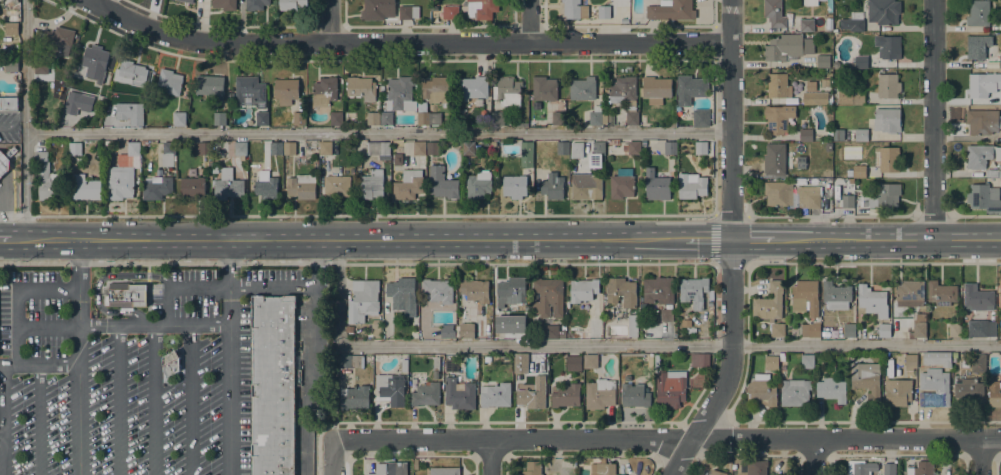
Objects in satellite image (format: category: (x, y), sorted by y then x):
building: (186, 1)
road: (95, 2)
building: (810, 3)
building: (224, 4)
building: (256, 4)
building: (291, 4)
building: (481, 8)
building: (377, 9)
building: (574, 9)
building: (670, 10)
building: (883, 11)
building: (408, 12)
building: (450, 12)
building: (603, 12)
building: (774, 13)
building: (978, 13)
building: (11, 15)
road: (330, 22)
road: (530, 22)
building: (852, 22)
building: (806, 25)
building: (1000, 25)
building: (11, 29)
building: (57, 41)
road: (403, 44)
building: (888, 46)
building: (787, 47)
building: (979, 47)
building: (93, 60)
building: (822, 61)
building: (860, 61)
building: (999, 61)
building: (11, 66)
building: (40, 67)
building: (132, 74)
building: (169, 82)
building: (824, 83)
building: (983, 84)
building: (209, 85)
building: (811, 85)
building: (778, 86)
building: (888, 86)
building: (361, 88)
building: (472, 88)
building: (544, 88)
building: (582, 89)
building: (655, 89)
building: (690, 89)
building: (436, 90)
building: (285, 91)
building: (507, 91)
building: (250, 92)
building: (324, 92)
building: (401, 93)
building: (625, 96)
building: (815, 98)
building: (857, 98)
building: (9, 105)
building: (68, 107)
building: (425, 115)
building: (597, 116)
building: (261, 118)
building: (299, 118)
building: (336, 118)
building: (373, 118)
building: (386, 118)
building: (498, 118)
building: (558, 118)
building: (693, 118)
road: (25, 119)
building: (136, 119)
building: (179, 119)
building: (219, 119)
building: (778, 119)
road: (932, 119)
building: (887, 120)
road: (13, 121)
building: (982, 121)
building: (520, 124)
building: (673, 125)
road: (377, 132)
building: (829, 134)
building: (838, 134)
building: (861, 134)
building: (805, 135)
building: (828, 146)
building: (240, 147)
building: (432, 147)
building: (563, 147)
building: (632, 147)
building: (670, 147)
building: (74, 148)
building: (201, 148)
building: (276, 148)
building: (289, 148)
building: (325, 148)
building: (378, 148)
building: (419, 148)
building: (468, 148)
building: (701, 148)
building: (133, 149)
building: (576, 150)
building: (596, 153)
building: (169, 154)
building: (526, 154)
building: (978, 155)
building: (242, 158)
building: (774, 158)
building: (398, 159)
building: (886, 159)
building: (5, 160)
building: (800, 161)
building: (859, 171)
building: (1000, 171)
building: (992, 173)
building: (827, 174)
building: (47, 178)
building: (119, 181)
building: (799, 181)
building: (442, 183)
building: (622, 183)
building: (227, 184)
building: (372, 184)
building: (408, 184)
building: (479, 184)
building: (265, 185)
building: (514, 185)
building: (658, 185)
building: (301, 186)
building: (336, 186)
building: (553, 186)
building: (586, 186)
building: (691, 186)
building: (84, 187)
building: (156, 187)
building: (193, 187)
building: (821, 187)
building: (778, 193)
building: (808, 196)
building: (883, 196)
building: (984, 197)
building: (848, 201)
building: (874, 211)
road: (356, 215)
road: (500, 239)
road: (731, 245)
road: (78, 263)
road: (224, 263)
road: (356, 263)
road: (730, 263)
road: (873, 263)
building: (1000, 282)
road: (196, 287)
road: (269, 287)
building: (437, 290)
building: (475, 290)
building: (583, 290)
building: (658, 290)
building: (694, 290)
building: (510, 291)
building: (621, 291)
building: (909, 293)
building: (941, 293)
building: (403, 294)
building: (126, 295)
building: (835, 295)
building: (548, 297)
building: (805, 297)
building: (977, 299)
building: (363, 300)
building: (872, 301)
building: (769, 303)
road: (746, 304)
road: (167, 306)
building: (608, 312)
building: (666, 314)
building: (837, 317)
building: (509, 324)
building: (919, 325)
road: (122, 326)
building: (633, 326)
building: (594, 327)
road: (16, 328)
building: (981, 328)
building: (466, 330)
building: (777, 330)
building: (810, 330)
building: (849, 330)
building: (883, 330)
building: (954, 330)
building: (551, 332)
building: (447, 335)
building: (572, 335)
road: (616, 345)
building: (954, 355)
road: (312, 357)
building: (782, 357)
building: (937, 358)
building: (487, 359)
building: (807, 359)
building: (656, 360)
building: (699, 360)
building: (350, 361)
building: (590, 361)
building: (910, 362)
building: (171, 363)
building: (436, 363)
building: (520, 363)
building: (573, 363)
building: (771, 363)
building: (978, 363)
road: (1, 365)
road: (9, 365)
building: (404, 365)
building: (451, 365)
parking lot: (126, 371)
building: (436, 375)
building: (866, 377)
road: (228, 380)
road: (78, 382)
building: (273, 385)
building: (670, 387)
building: (390, 388)
building: (934, 388)
building: (831, 389)
building: (969, 389)
building: (762, 392)
building: (794, 392)
building: (897, 392)
building: (994, 393)
building: (425, 394)
building: (459, 394)
building: (600, 394)
building: (495, 395)
building: (565, 395)
building: (634, 395)
building: (532, 396)
building: (354, 397)
road: (118, 400)
road: (154, 400)
road: (191, 400)
road: (3, 420)
road: (38, 420)
road: (1, 438)
road: (511, 438)
road: (845, 438)
road: (332, 456)
road: (490, 456)
road: (814, 456)
road: (980, 457)
building: (415, 463)
building: (390, 468)
building: (532, 468)
building: (756, 468)
building: (920, 468)
building: (603, 469)
building: (860, 469)
building: (889, 469)
building: (444, 471)
building: (716, 473)

